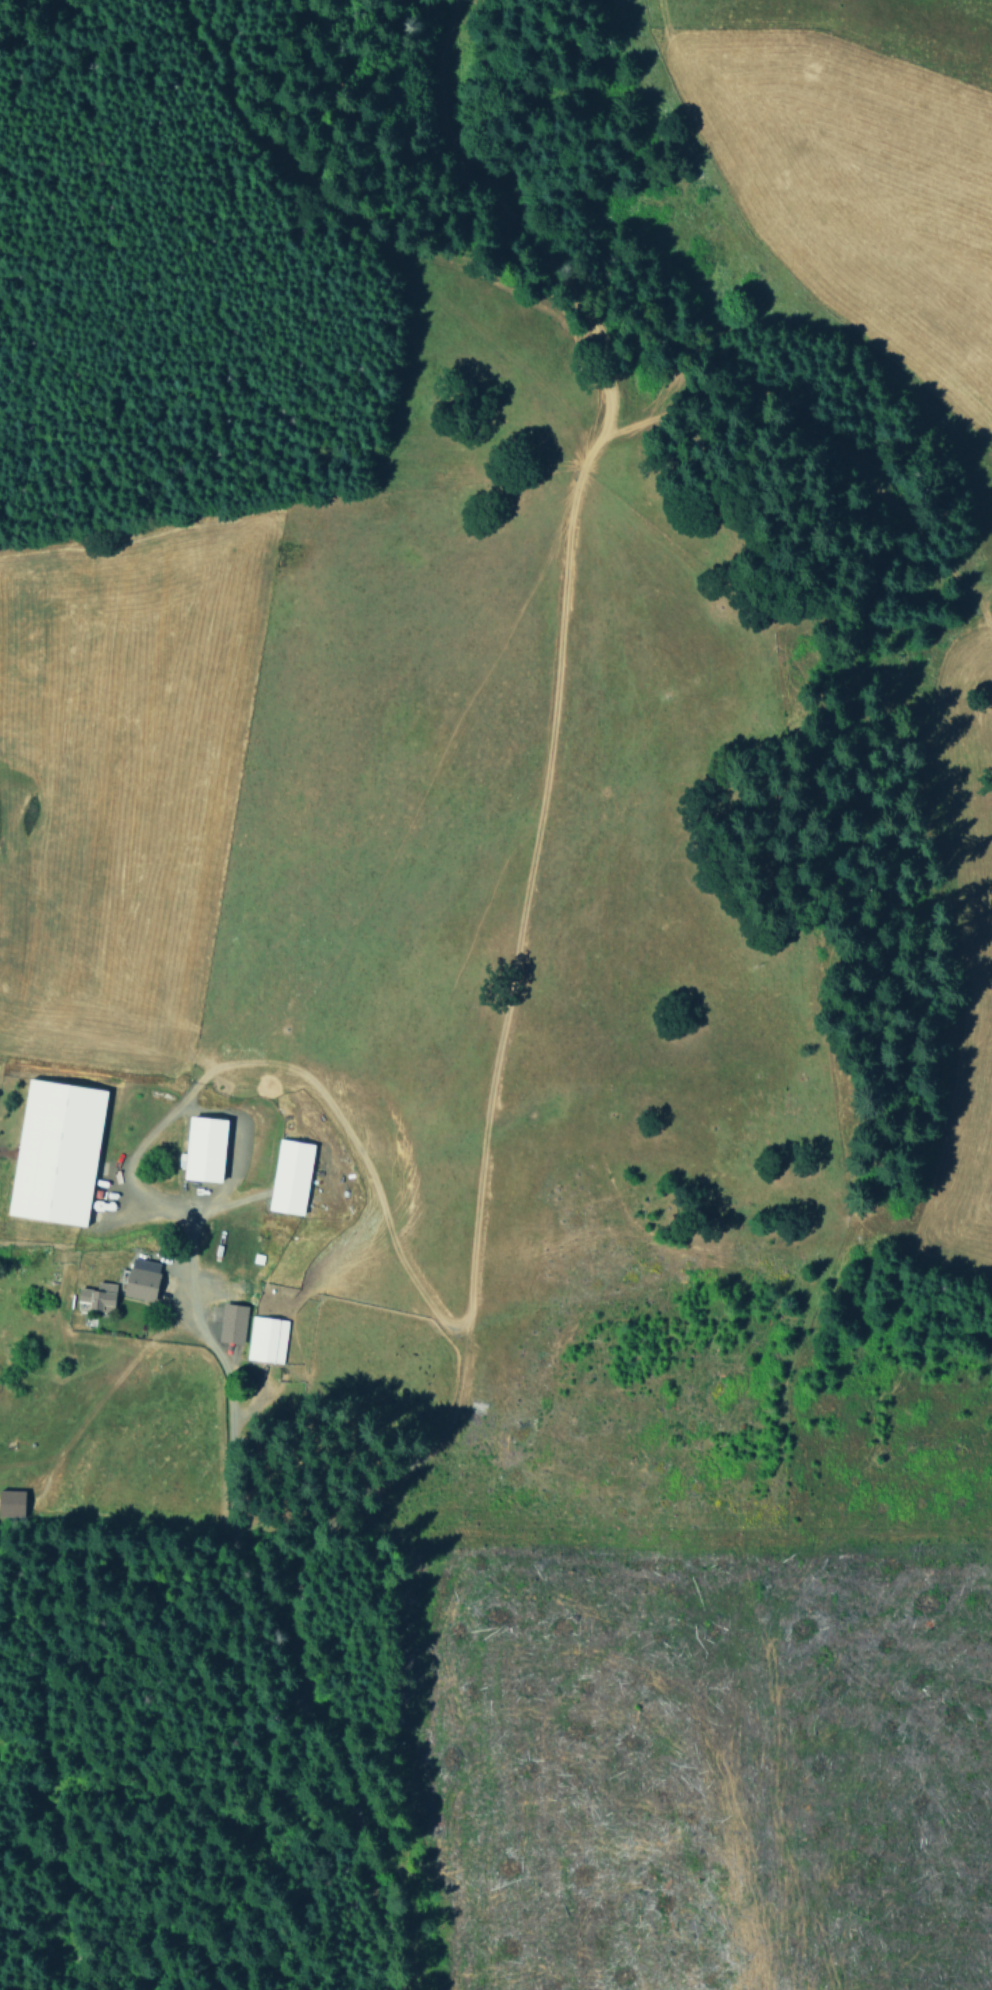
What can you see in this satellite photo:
road: (929, 664)
road: (538, 811)
building: (205, 1148)
building: (57, 1151)
road: (359, 1164)
building: (291, 1176)
building: (142, 1278)
building: (96, 1296)
building: (232, 1323)
building: (266, 1339)
building: (12, 1503)
road: (304, 1662)

